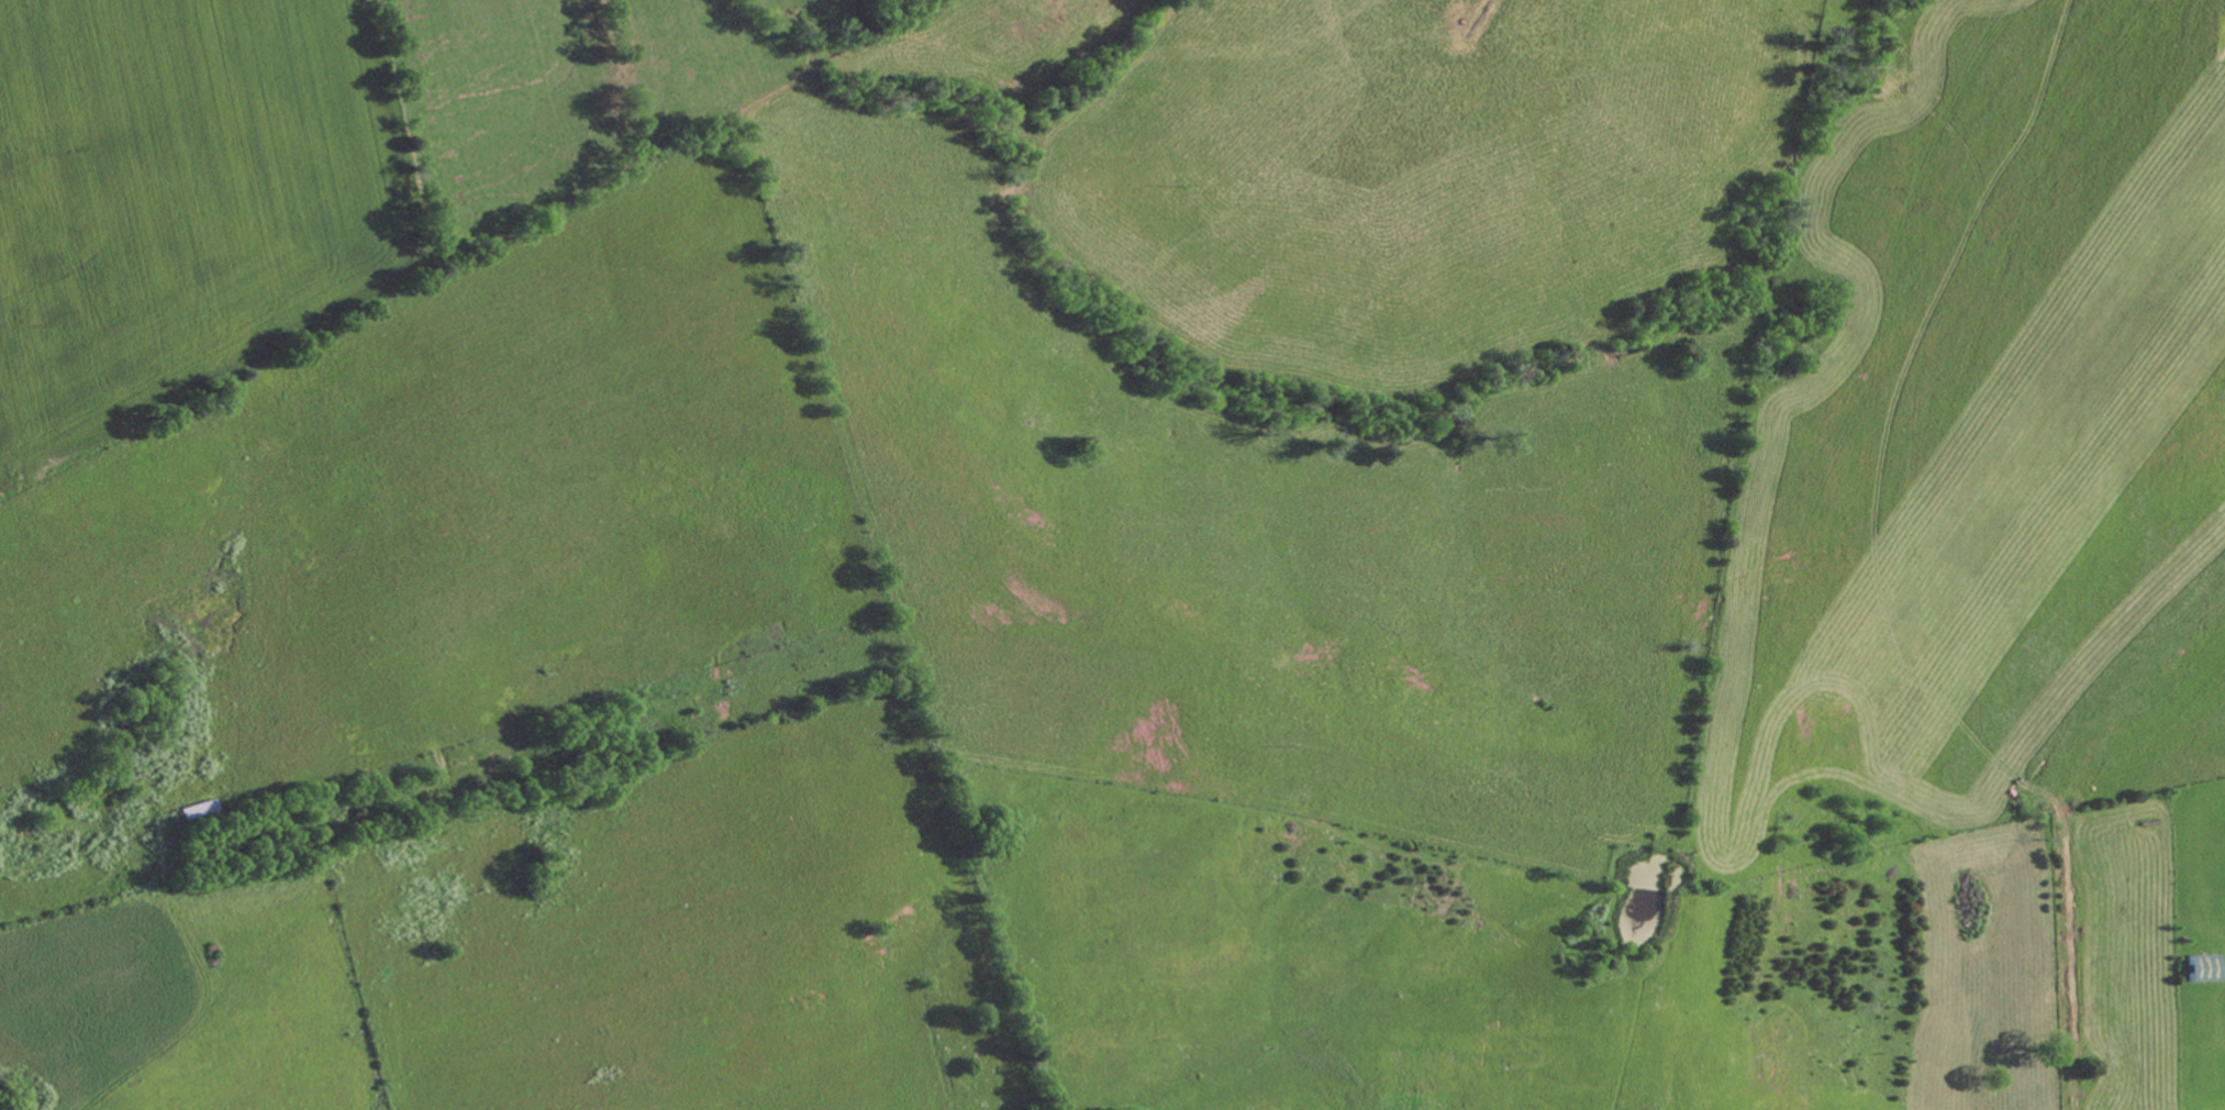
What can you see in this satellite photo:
building: (201, 810)
building: (2209, 969)

